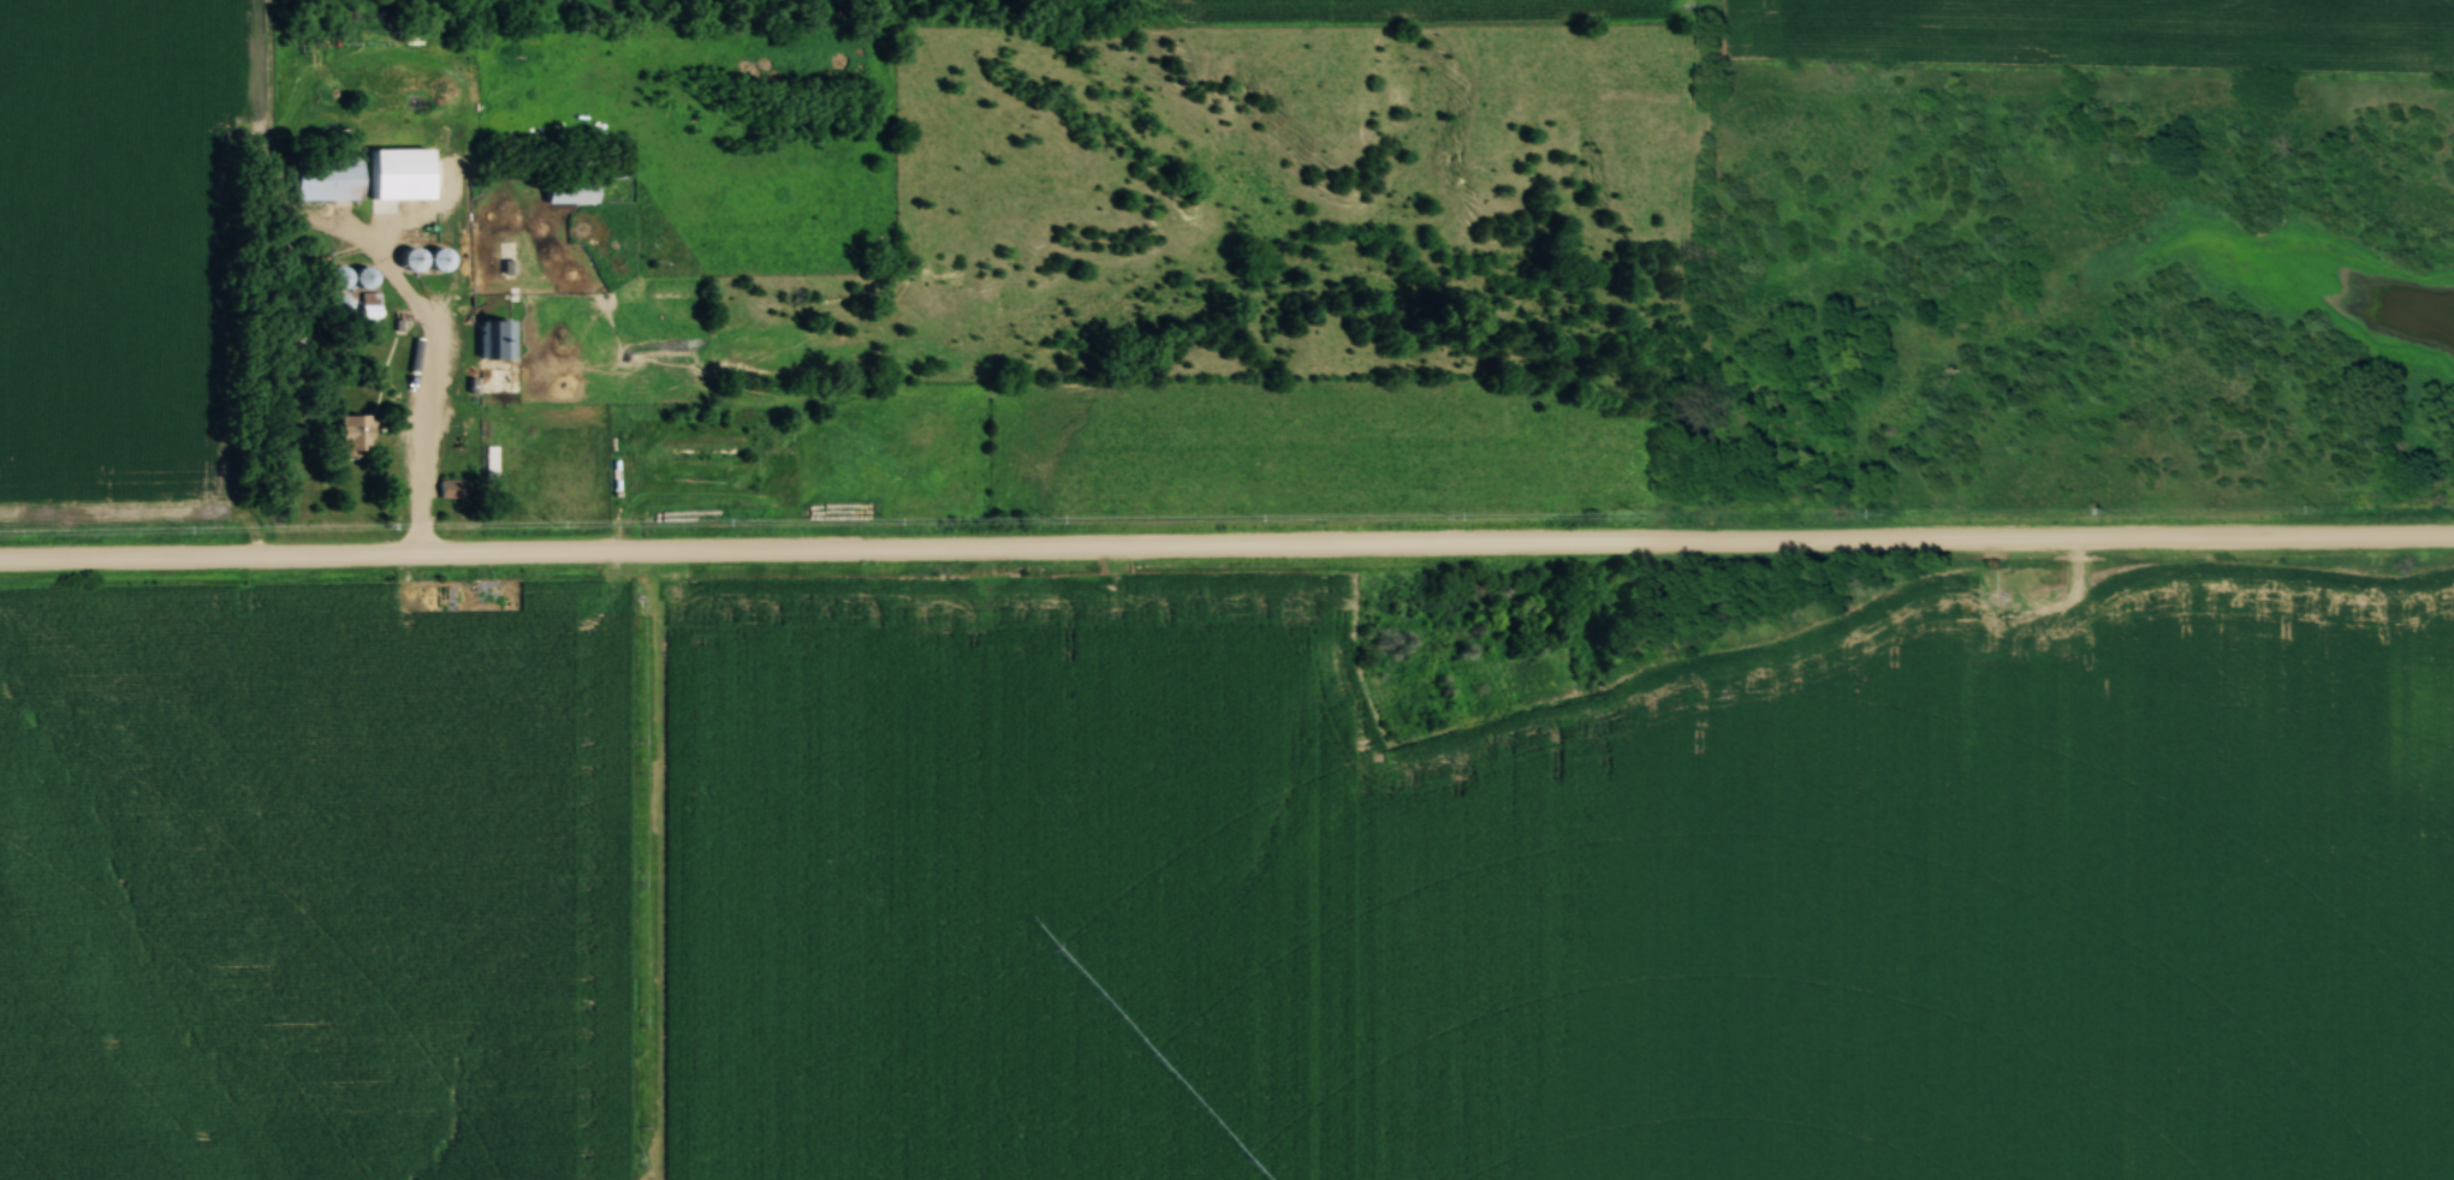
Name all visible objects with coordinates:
building: (328, 181)
building: (572, 192)
building: (402, 215)
building: (433, 258)
building: (368, 276)
building: (372, 305)
building: (499, 338)
building: (355, 435)
building: (489, 463)
building: (451, 488)
road: (1226, 549)

